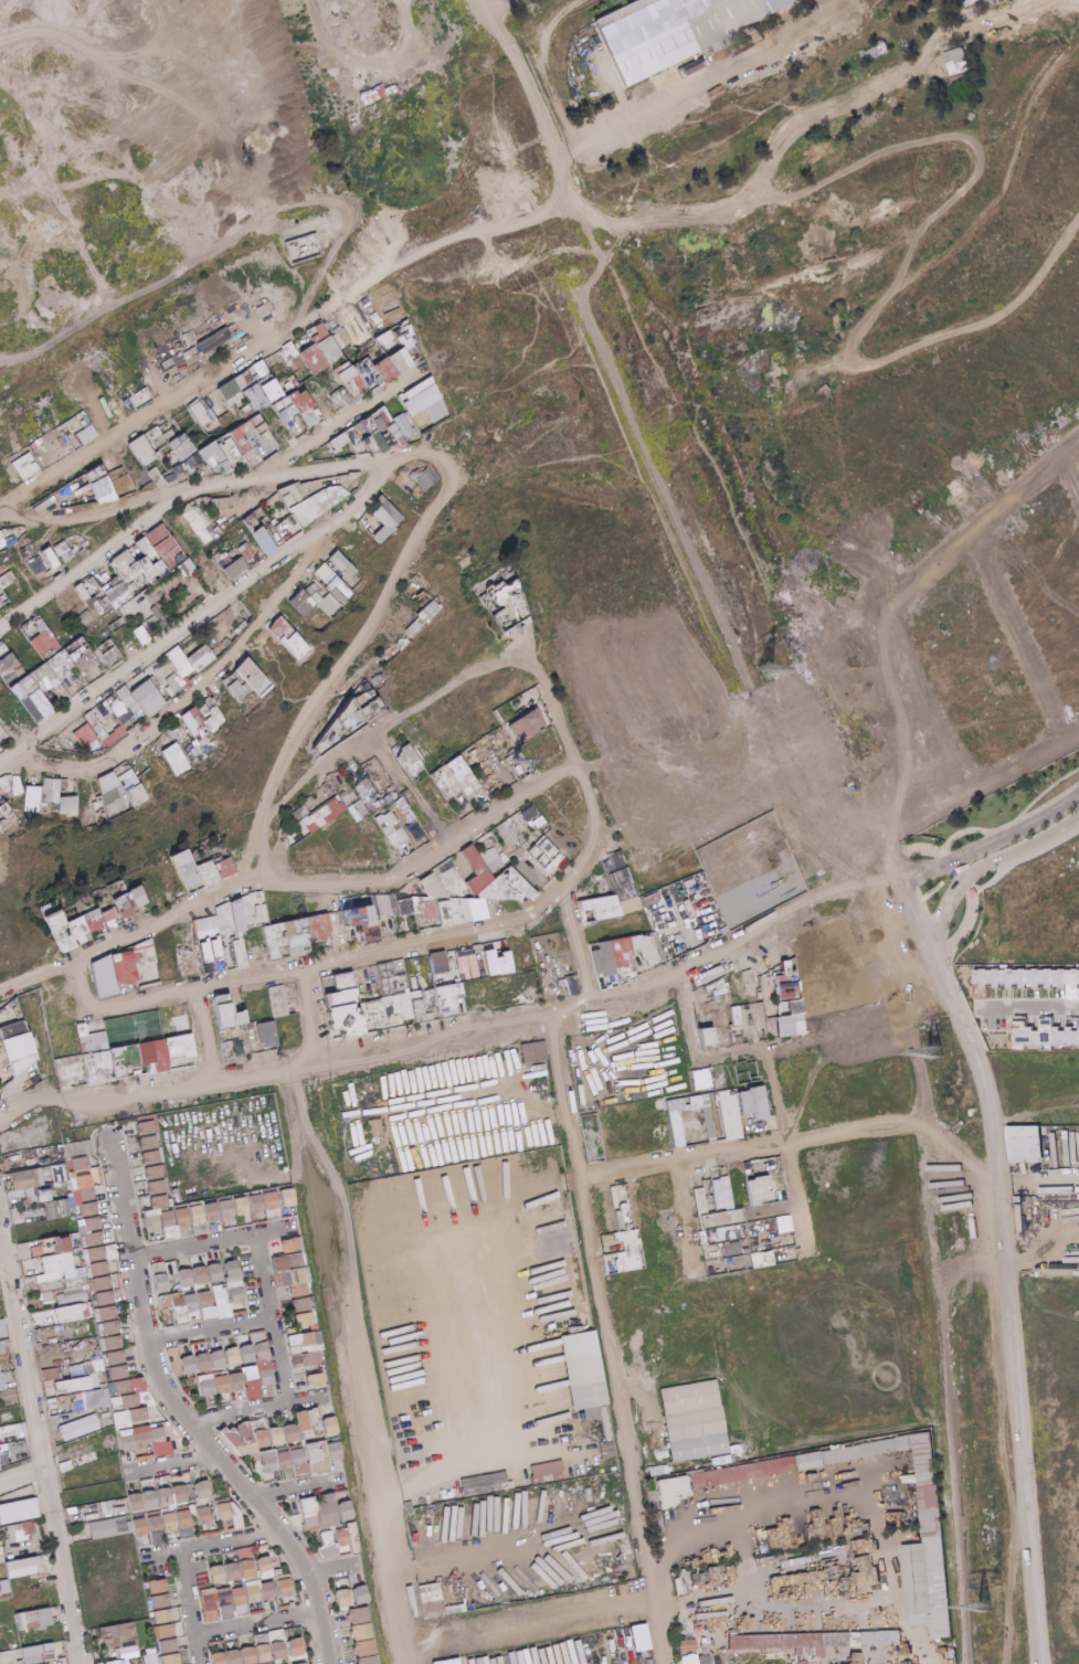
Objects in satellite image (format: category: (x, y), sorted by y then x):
power tower: (775, 672)
power tower: (277, 1052)
power tower: (945, 1052)
power tower: (320, 1287)
power tower: (347, 1434)
power tower: (368, 1567)
power tower: (994, 1605)

